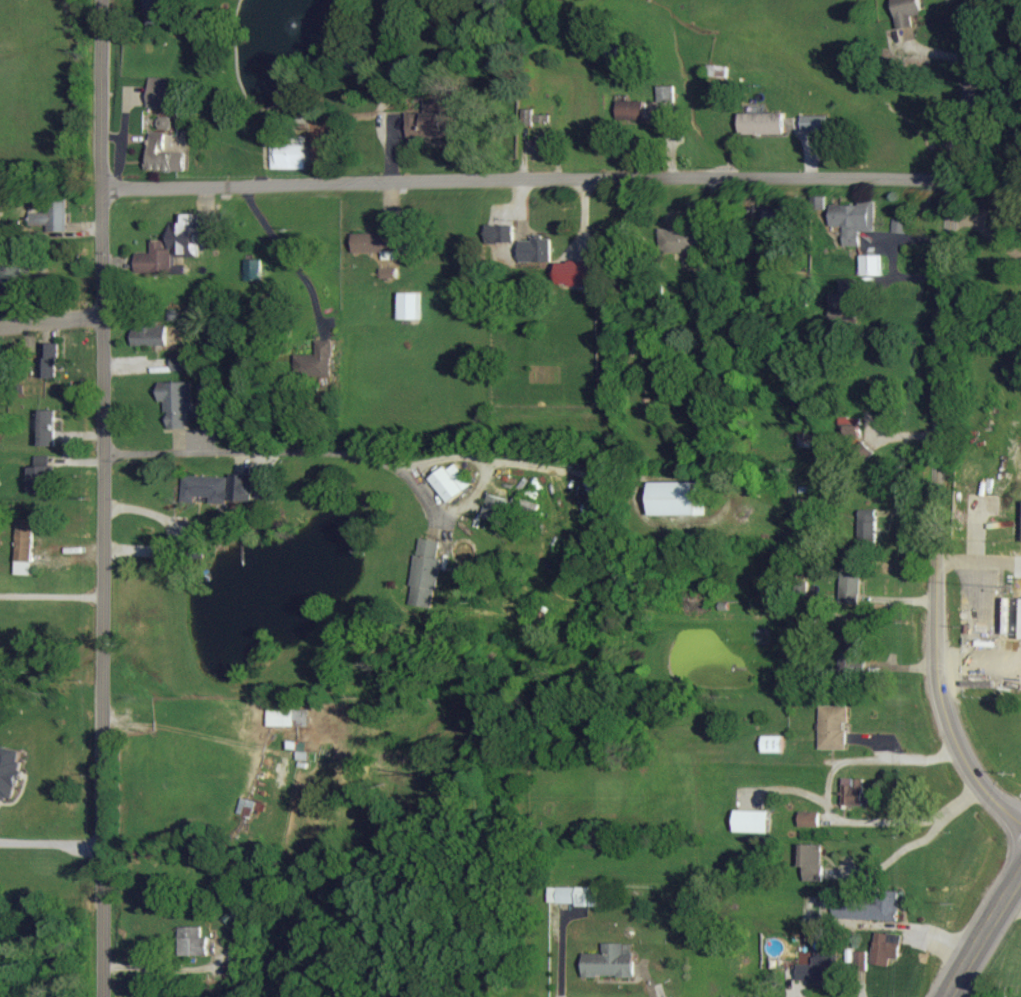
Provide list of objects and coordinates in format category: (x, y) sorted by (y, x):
building: (907, 12)
building: (157, 13)
building: (161, 92)
building: (666, 94)
building: (632, 111)
building: (536, 117)
building: (432, 122)
building: (166, 123)
building: (816, 123)
building: (762, 124)
building: (539, 144)
building: (164, 156)
building: (290, 156)
road: (528, 177)
building: (820, 203)
building: (54, 215)
building: (779, 215)
building: (855, 220)
building: (902, 226)
building: (501, 233)
road: (987, 233)
building: (680, 240)
building: (377, 243)
building: (172, 248)
building: (537, 250)
building: (502, 251)
road: (287, 253)
building: (872, 265)
building: (255, 270)
building: (390, 273)
building: (576, 273)
building: (11, 276)
building: (764, 282)
building: (846, 299)
building: (410, 306)
road: (51, 320)
building: (150, 331)
building: (49, 359)
building: (319, 359)
building: (181, 361)
building: (0, 379)
building: (207, 394)
building: (177, 401)
building: (854, 425)
building: (48, 427)
road: (280, 450)
building: (40, 478)
building: (452, 481)
building: (242, 487)
building: (207, 488)
building: (678, 497)
road: (937, 497)
road: (103, 498)
building: (495, 508)
building: (869, 525)
building: (194, 529)
building: (427, 573)
building: (852, 582)
road: (51, 595)
building: (1013, 616)
building: (850, 649)
road: (979, 654)
building: (289, 717)
building: (834, 726)
building: (774, 743)
building: (10, 770)
road: (827, 790)
building: (855, 791)
building: (248, 806)
building: (810, 818)
building: (752, 821)
road: (51, 843)
road: (893, 856)
building: (813, 861)
building: (575, 895)
building: (888, 905)
building: (850, 909)
road: (1015, 910)
building: (193, 941)
road: (986, 944)
building: (887, 947)
building: (863, 960)
building: (611, 961)
road: (164, 968)
building: (819, 969)

